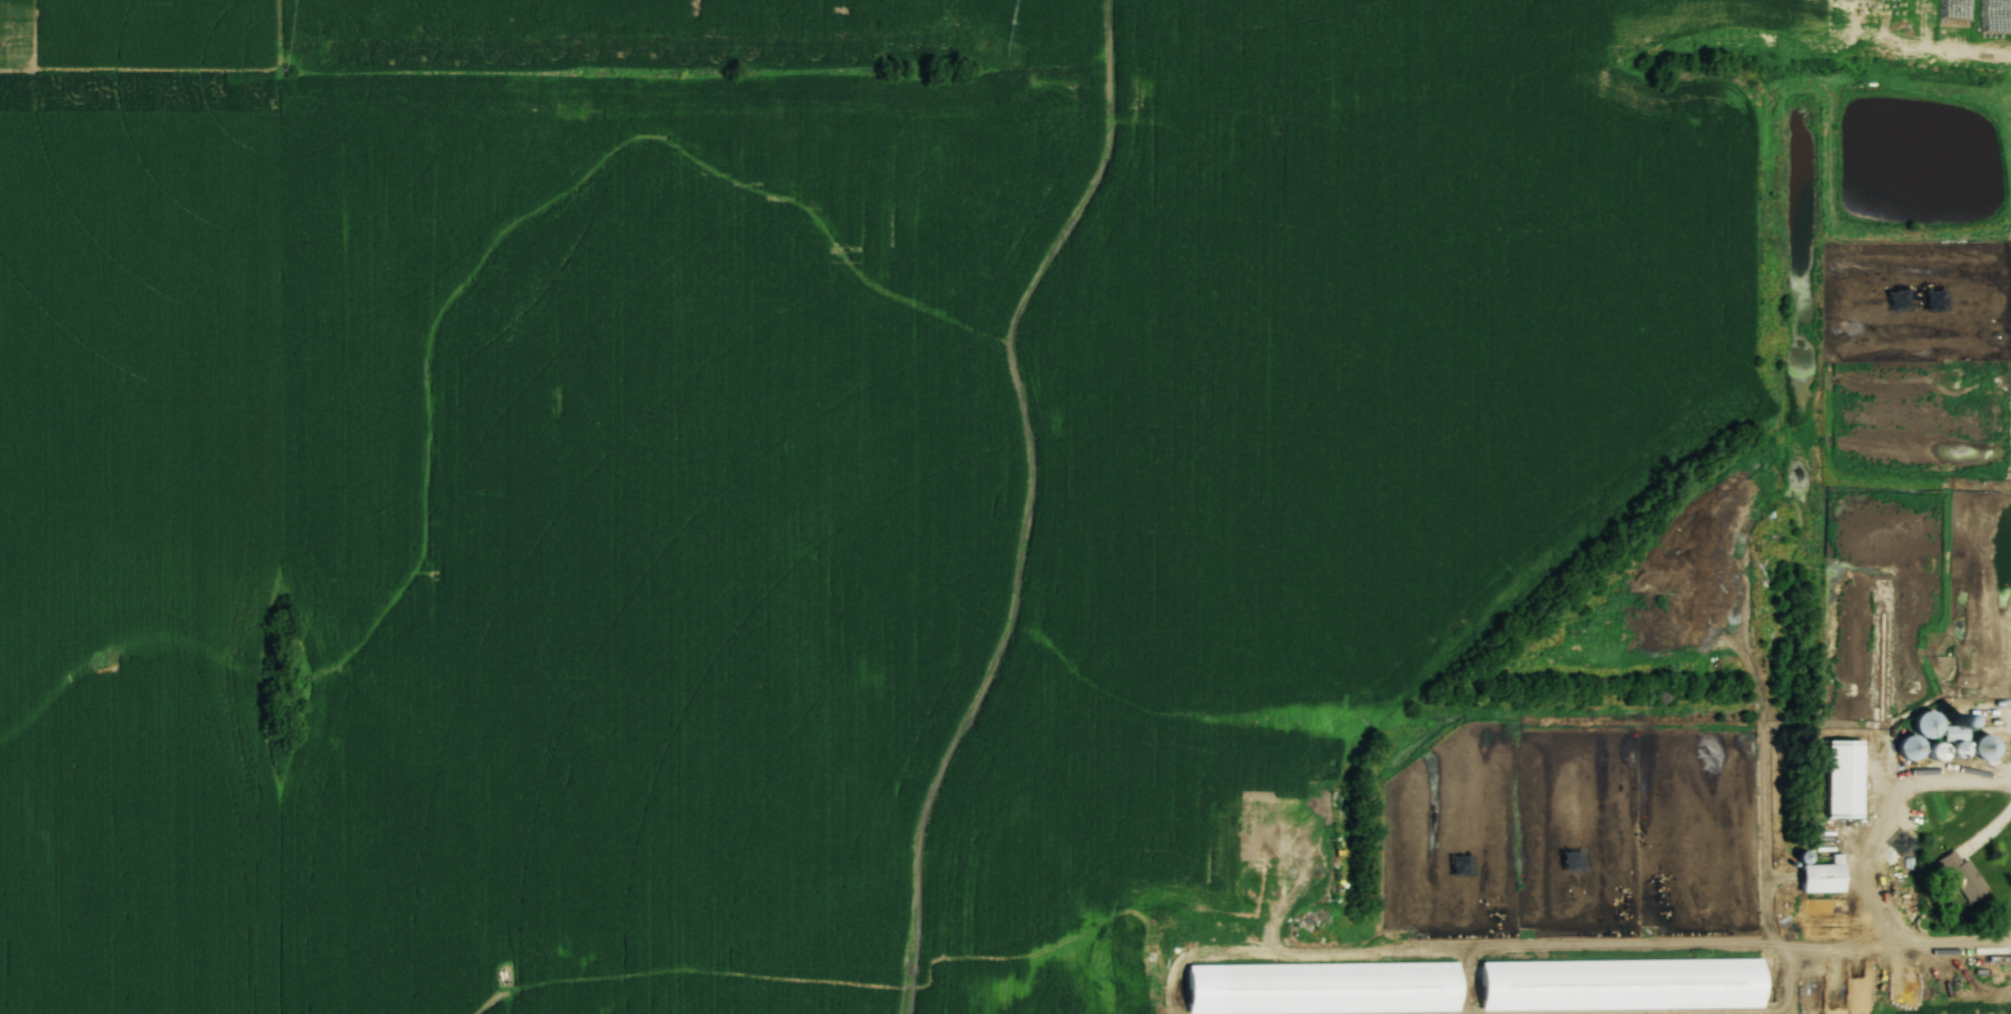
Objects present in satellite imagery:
building: (1838, 779)
building: (1958, 875)
road: (1862, 887)

